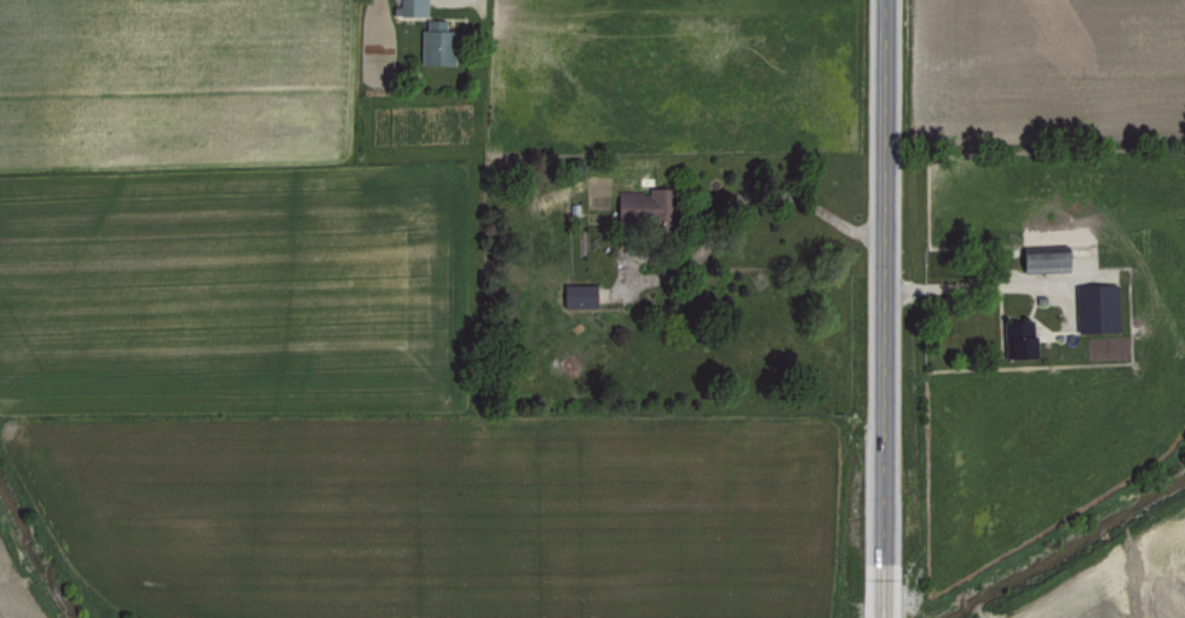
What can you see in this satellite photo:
building: (412, 7)
building: (432, 45)
road: (794, 198)
building: (656, 204)
building: (1042, 260)
road: (976, 284)
building: (577, 294)
building: (1095, 307)
road: (882, 308)
building: (1017, 337)

